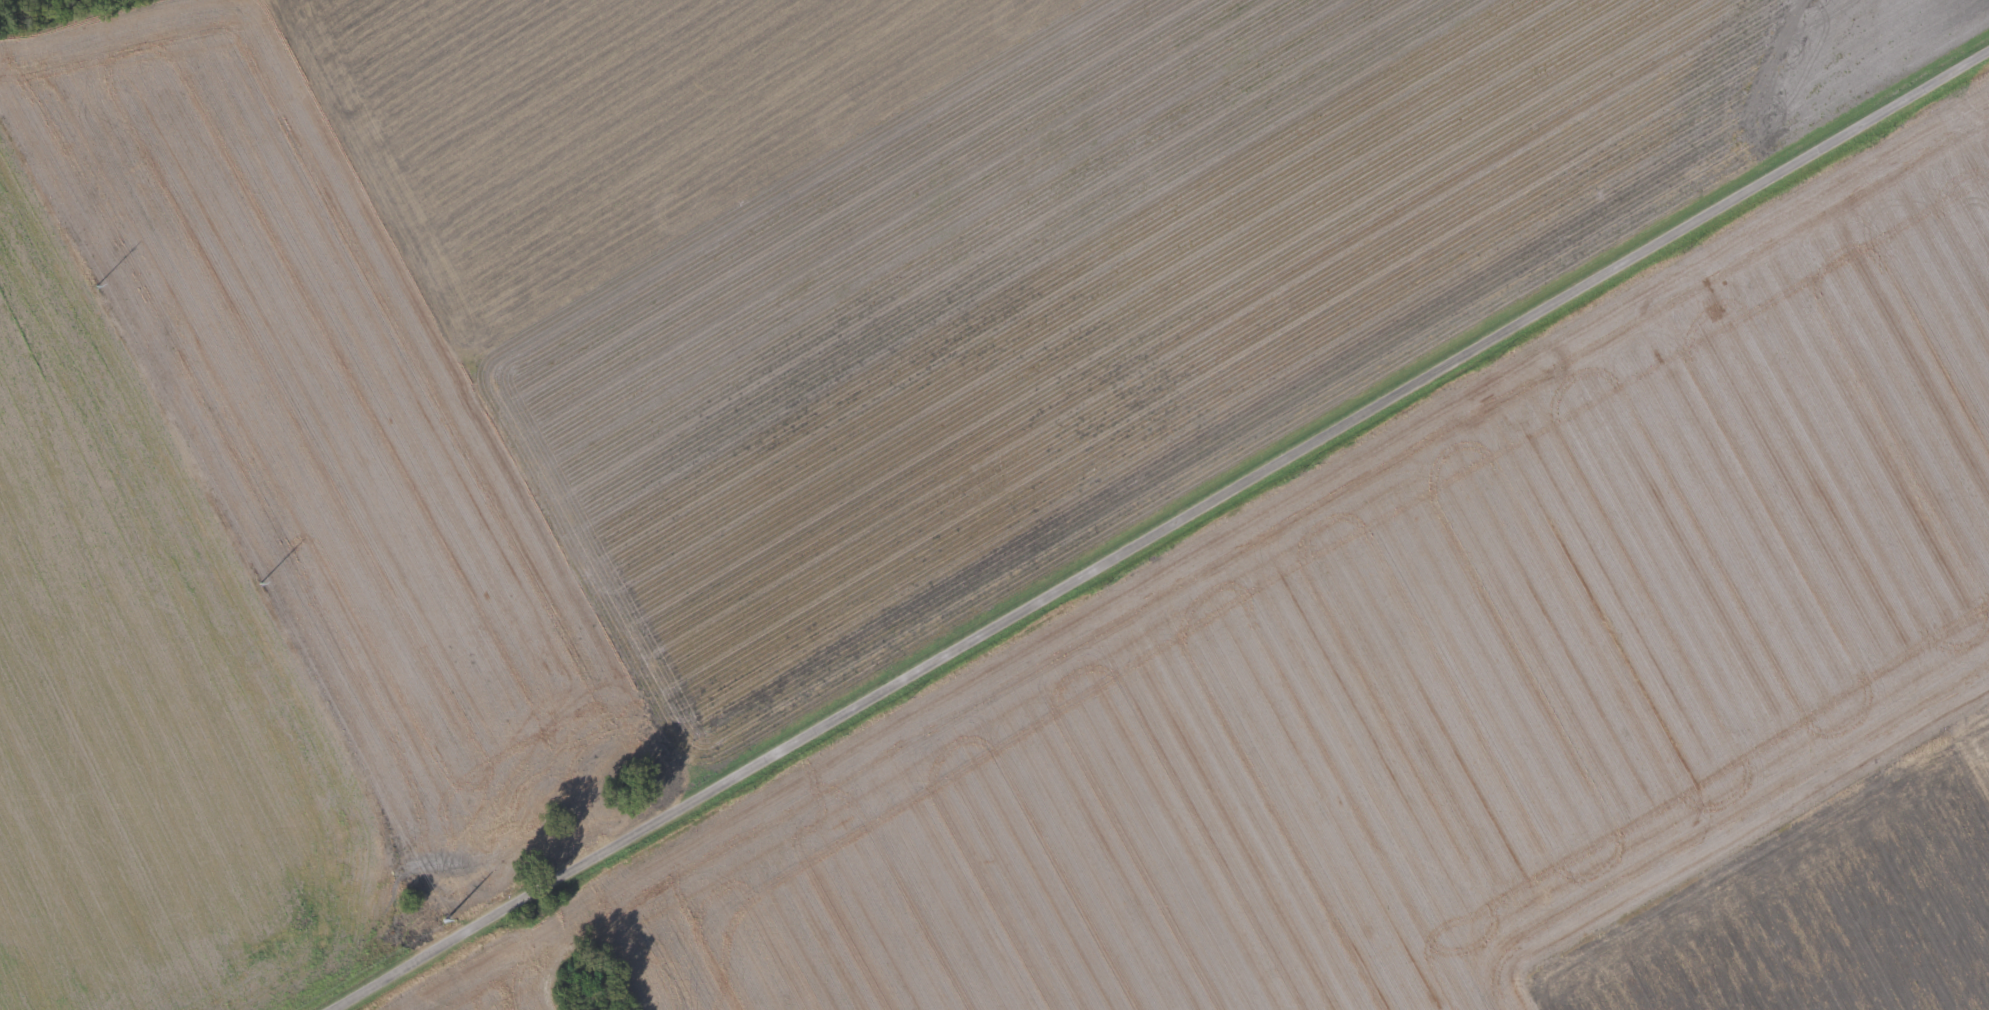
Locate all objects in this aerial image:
road: (1159, 530)
road: (569, 944)

